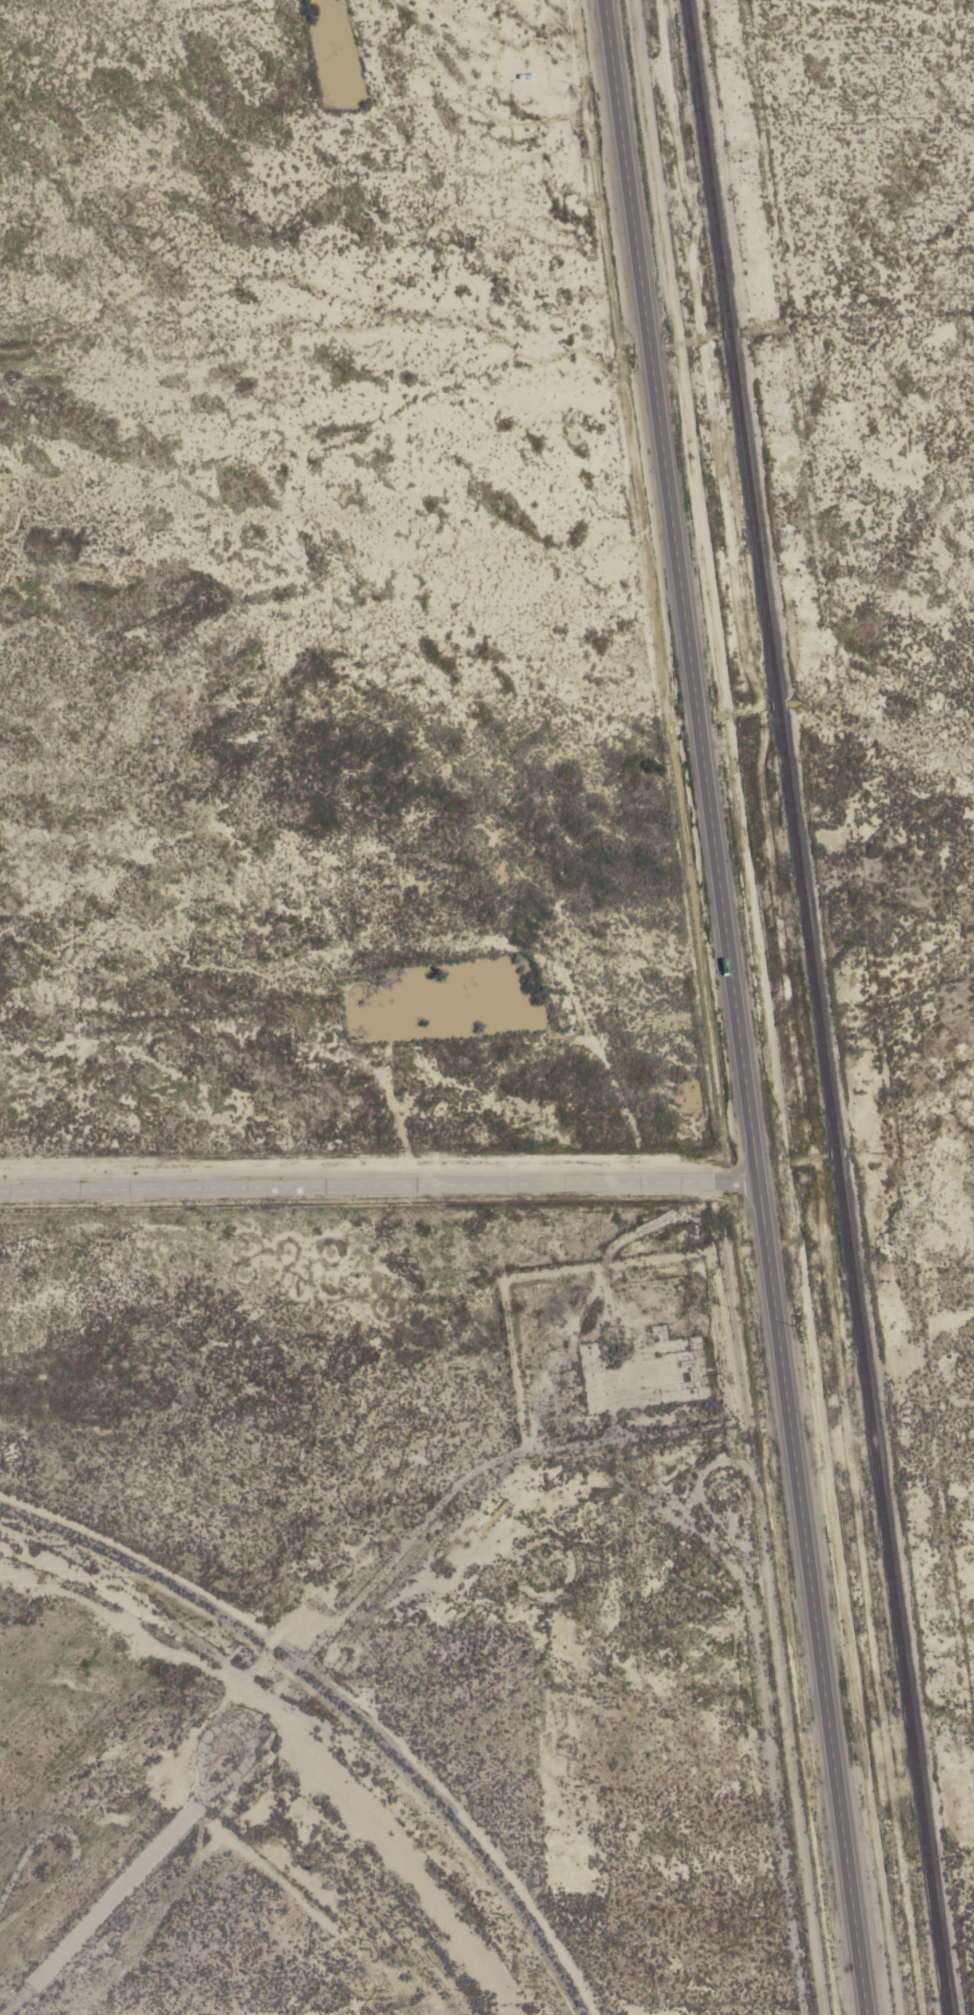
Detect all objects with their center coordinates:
road: (731, 1007)
railway: (817, 1007)
road: (376, 1184)
airport runway: (115, 1892)

